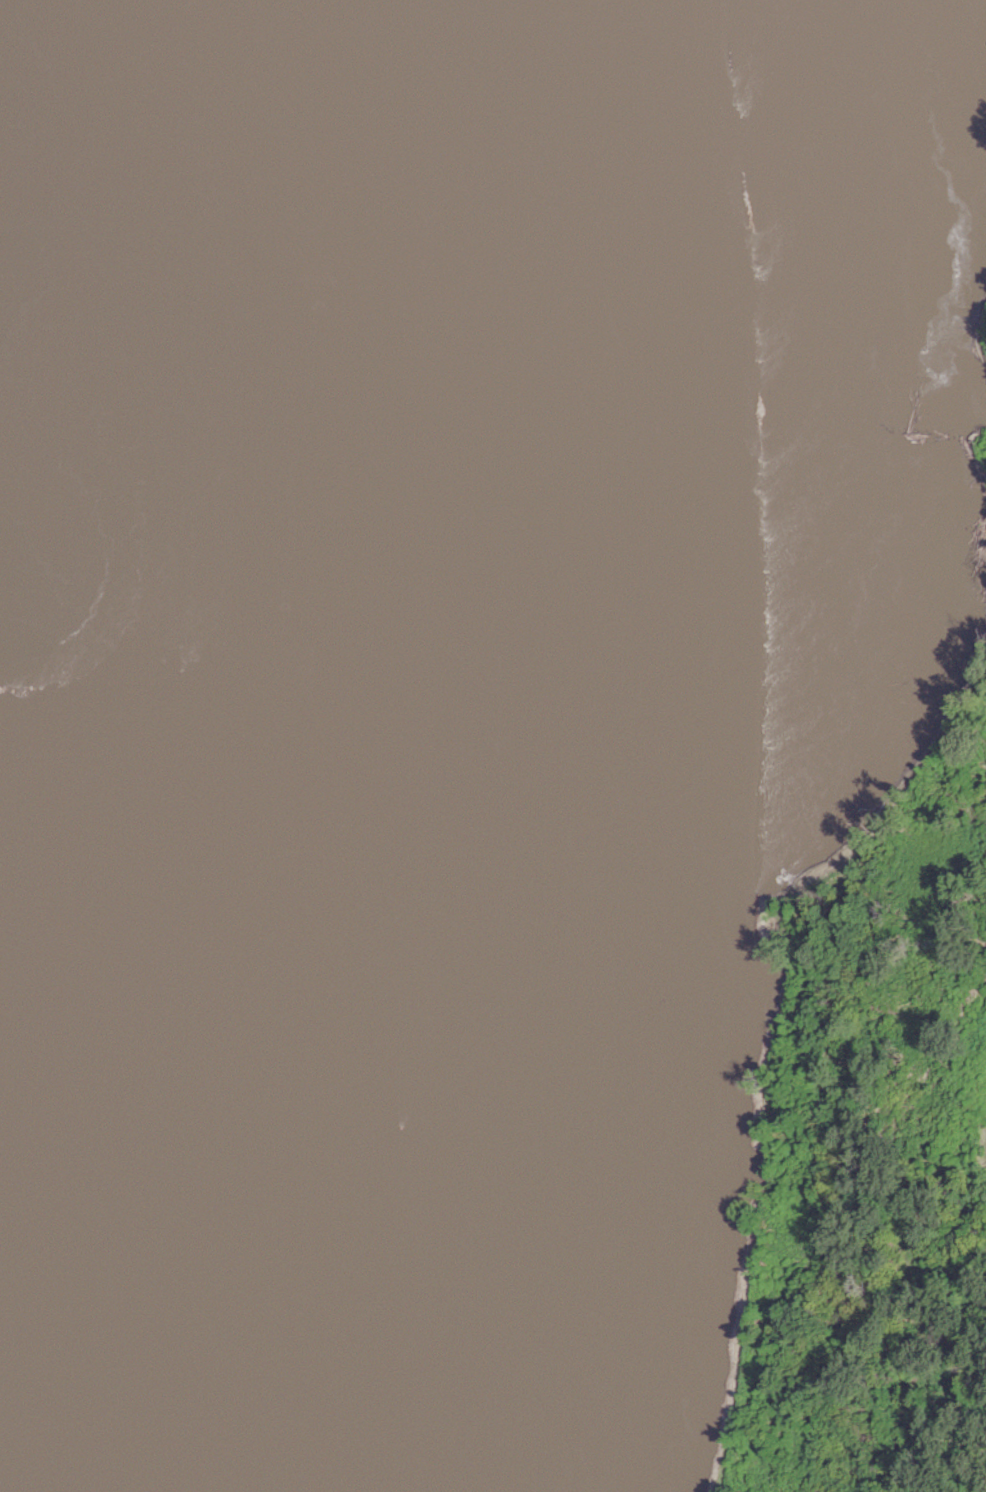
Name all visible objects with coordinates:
river: (467, 749)

